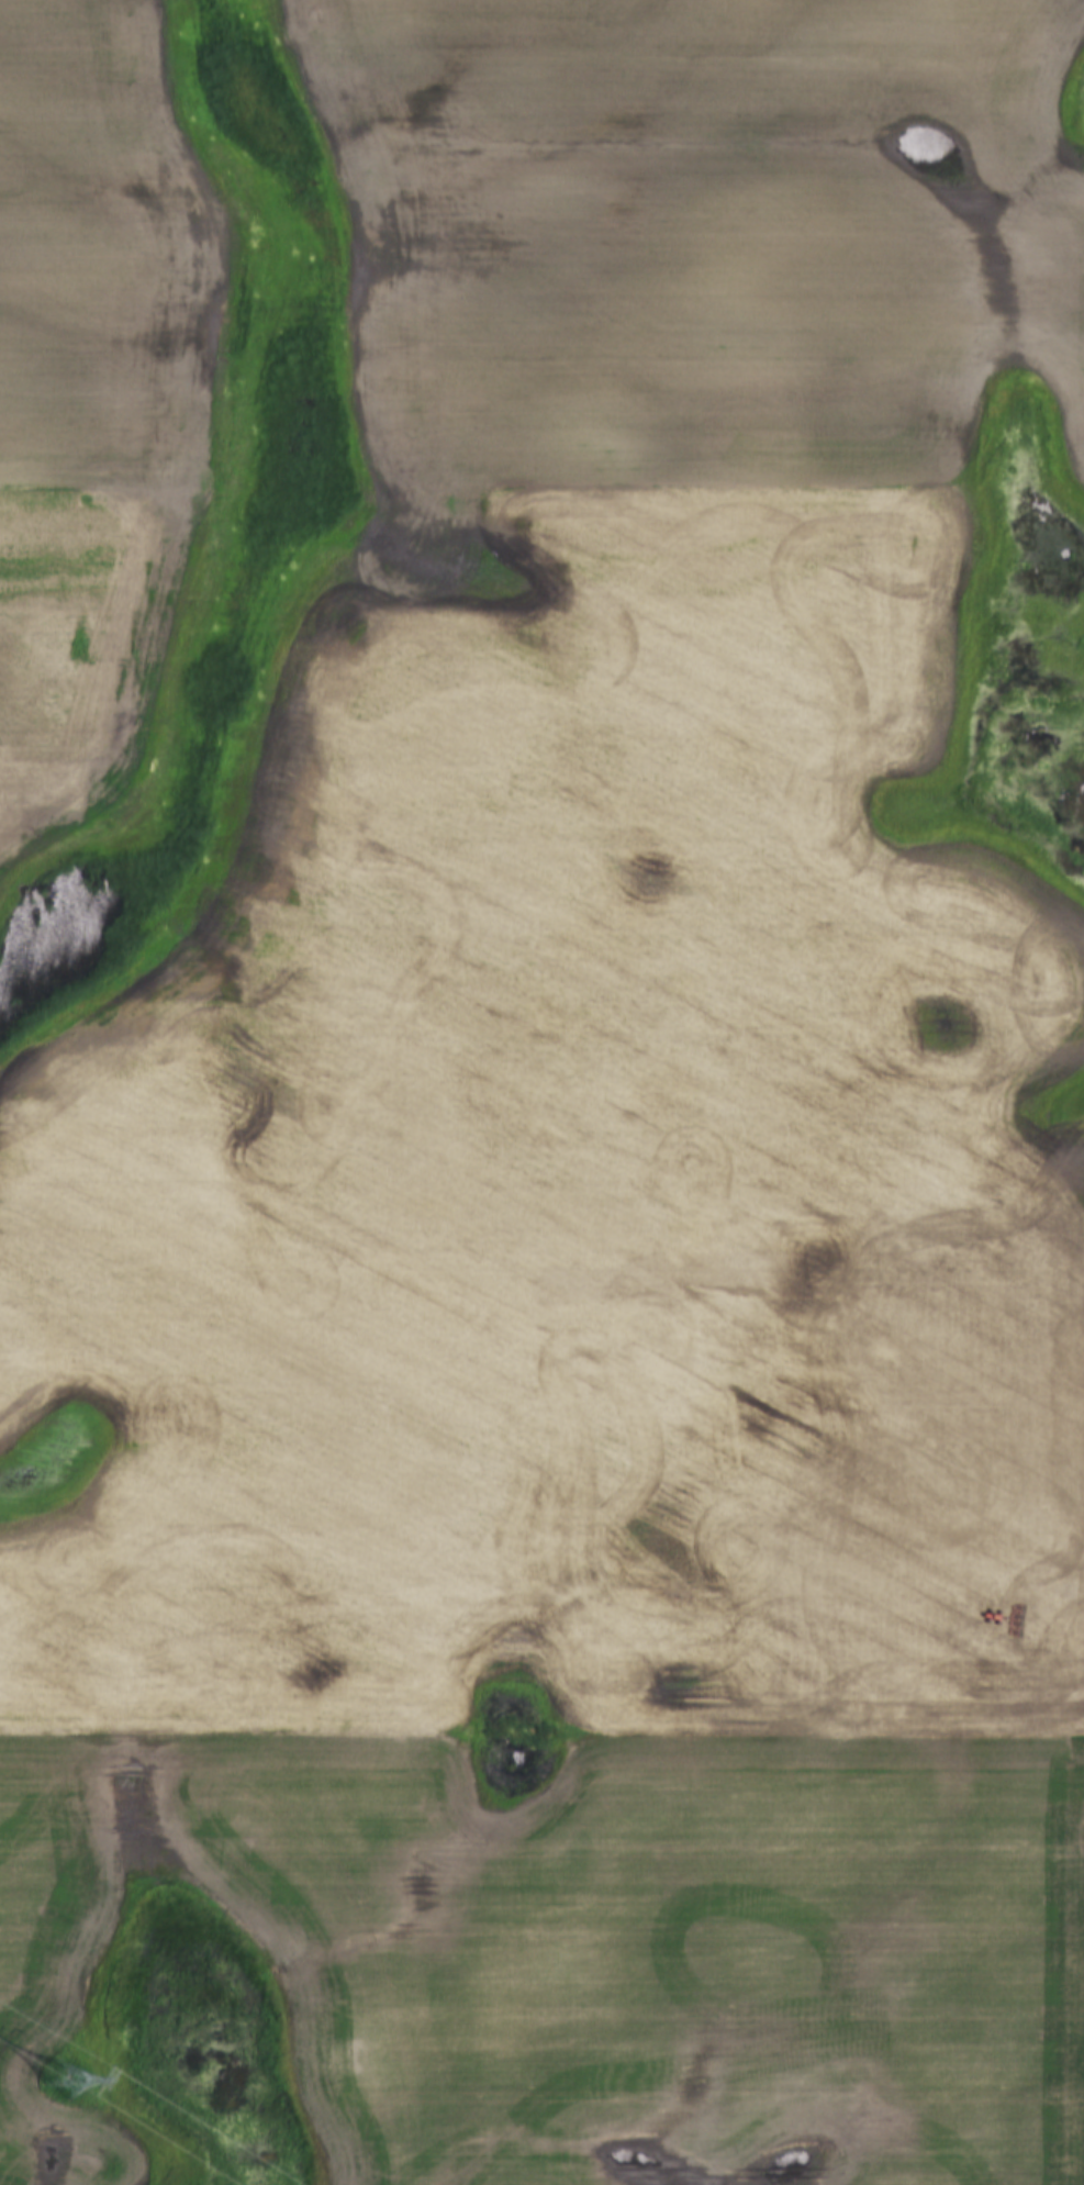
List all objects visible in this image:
power tower: (65, 2083)

